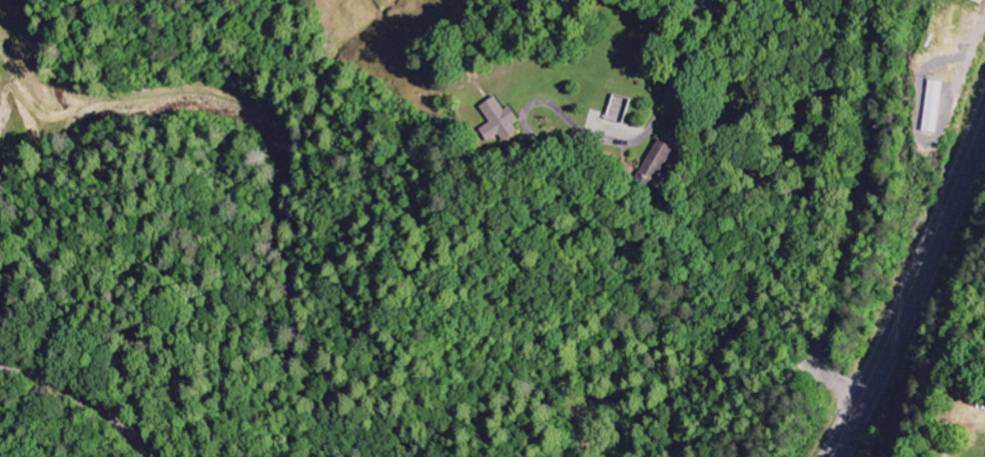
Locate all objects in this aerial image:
road: (722, 4)
building: (937, 106)
building: (624, 109)
road: (662, 110)
building: (508, 119)
building: (666, 156)
road: (861, 209)
road: (913, 285)
road: (88, 396)

